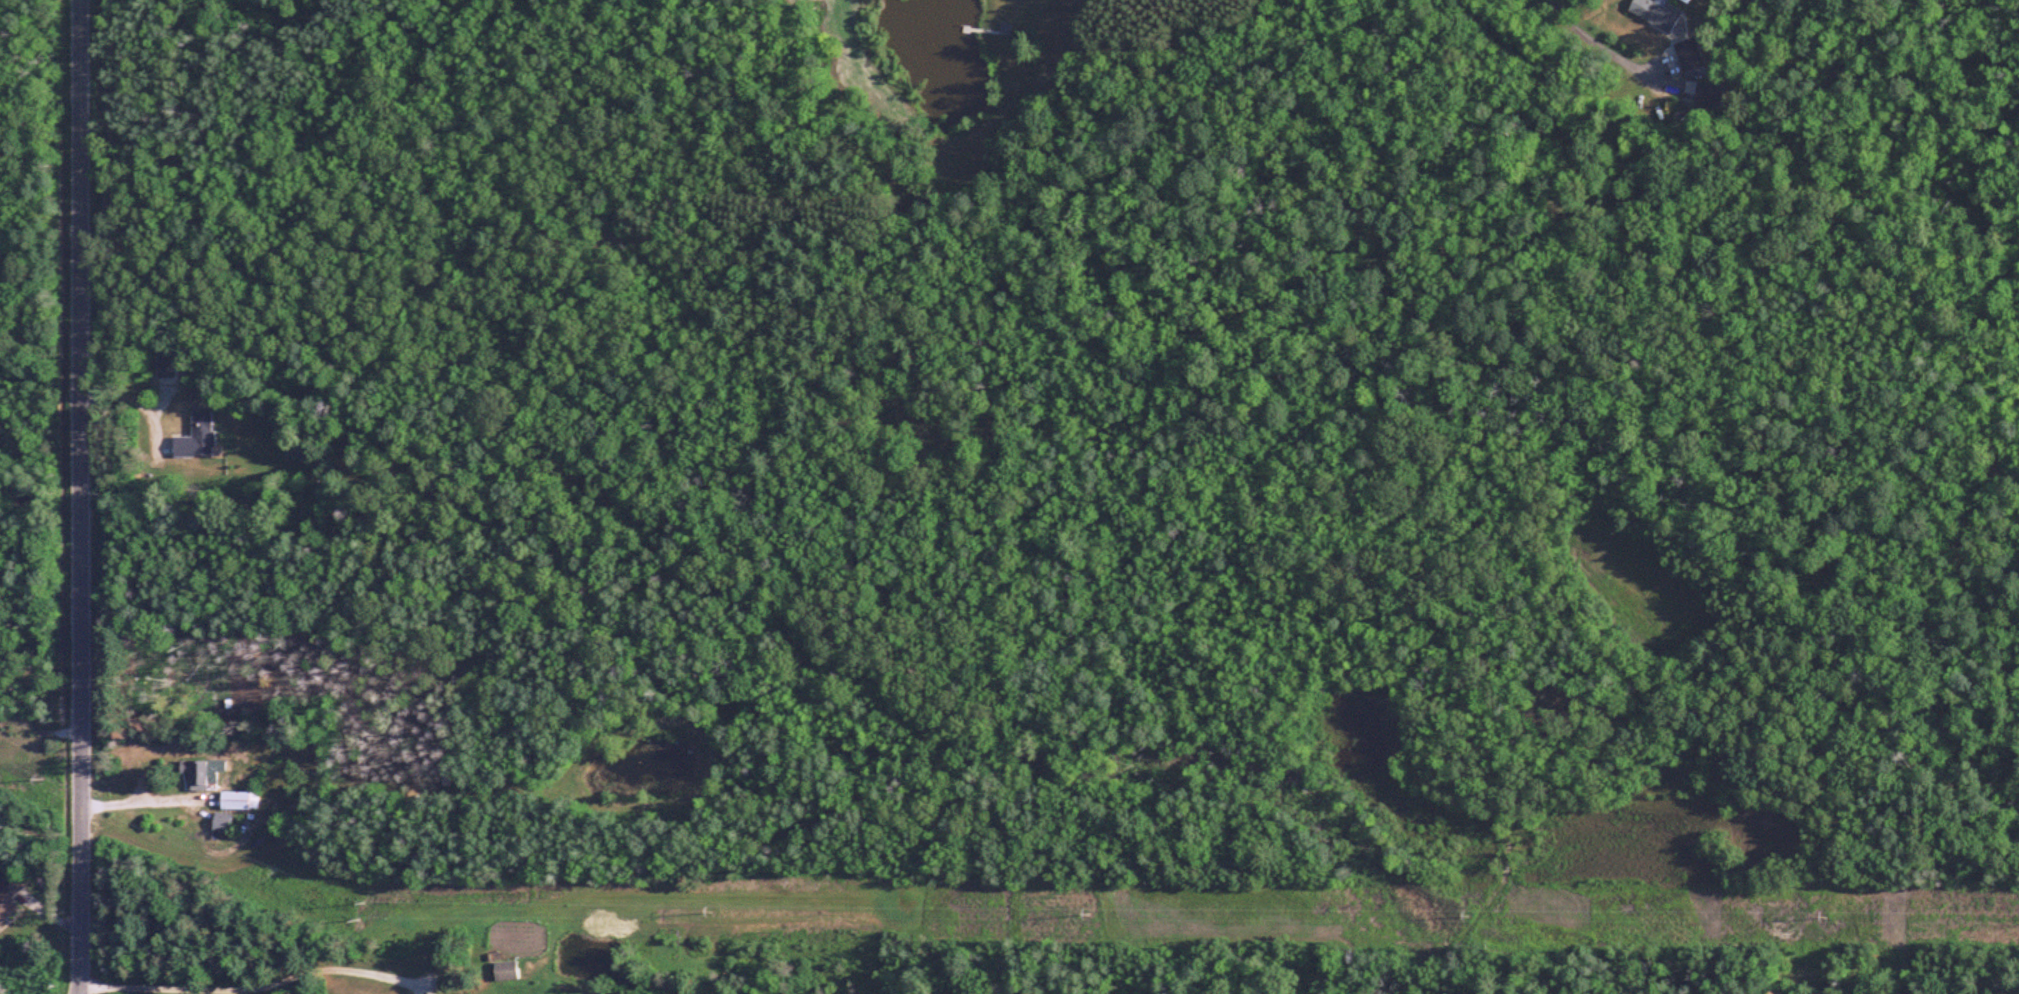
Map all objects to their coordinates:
building: (1654, 13)
building: (1684, 61)
building: (163, 362)
building: (195, 437)
road: (82, 497)
building: (200, 774)
road: (143, 799)
building: (238, 801)
building: (220, 823)
building: (7, 897)
building: (504, 972)

